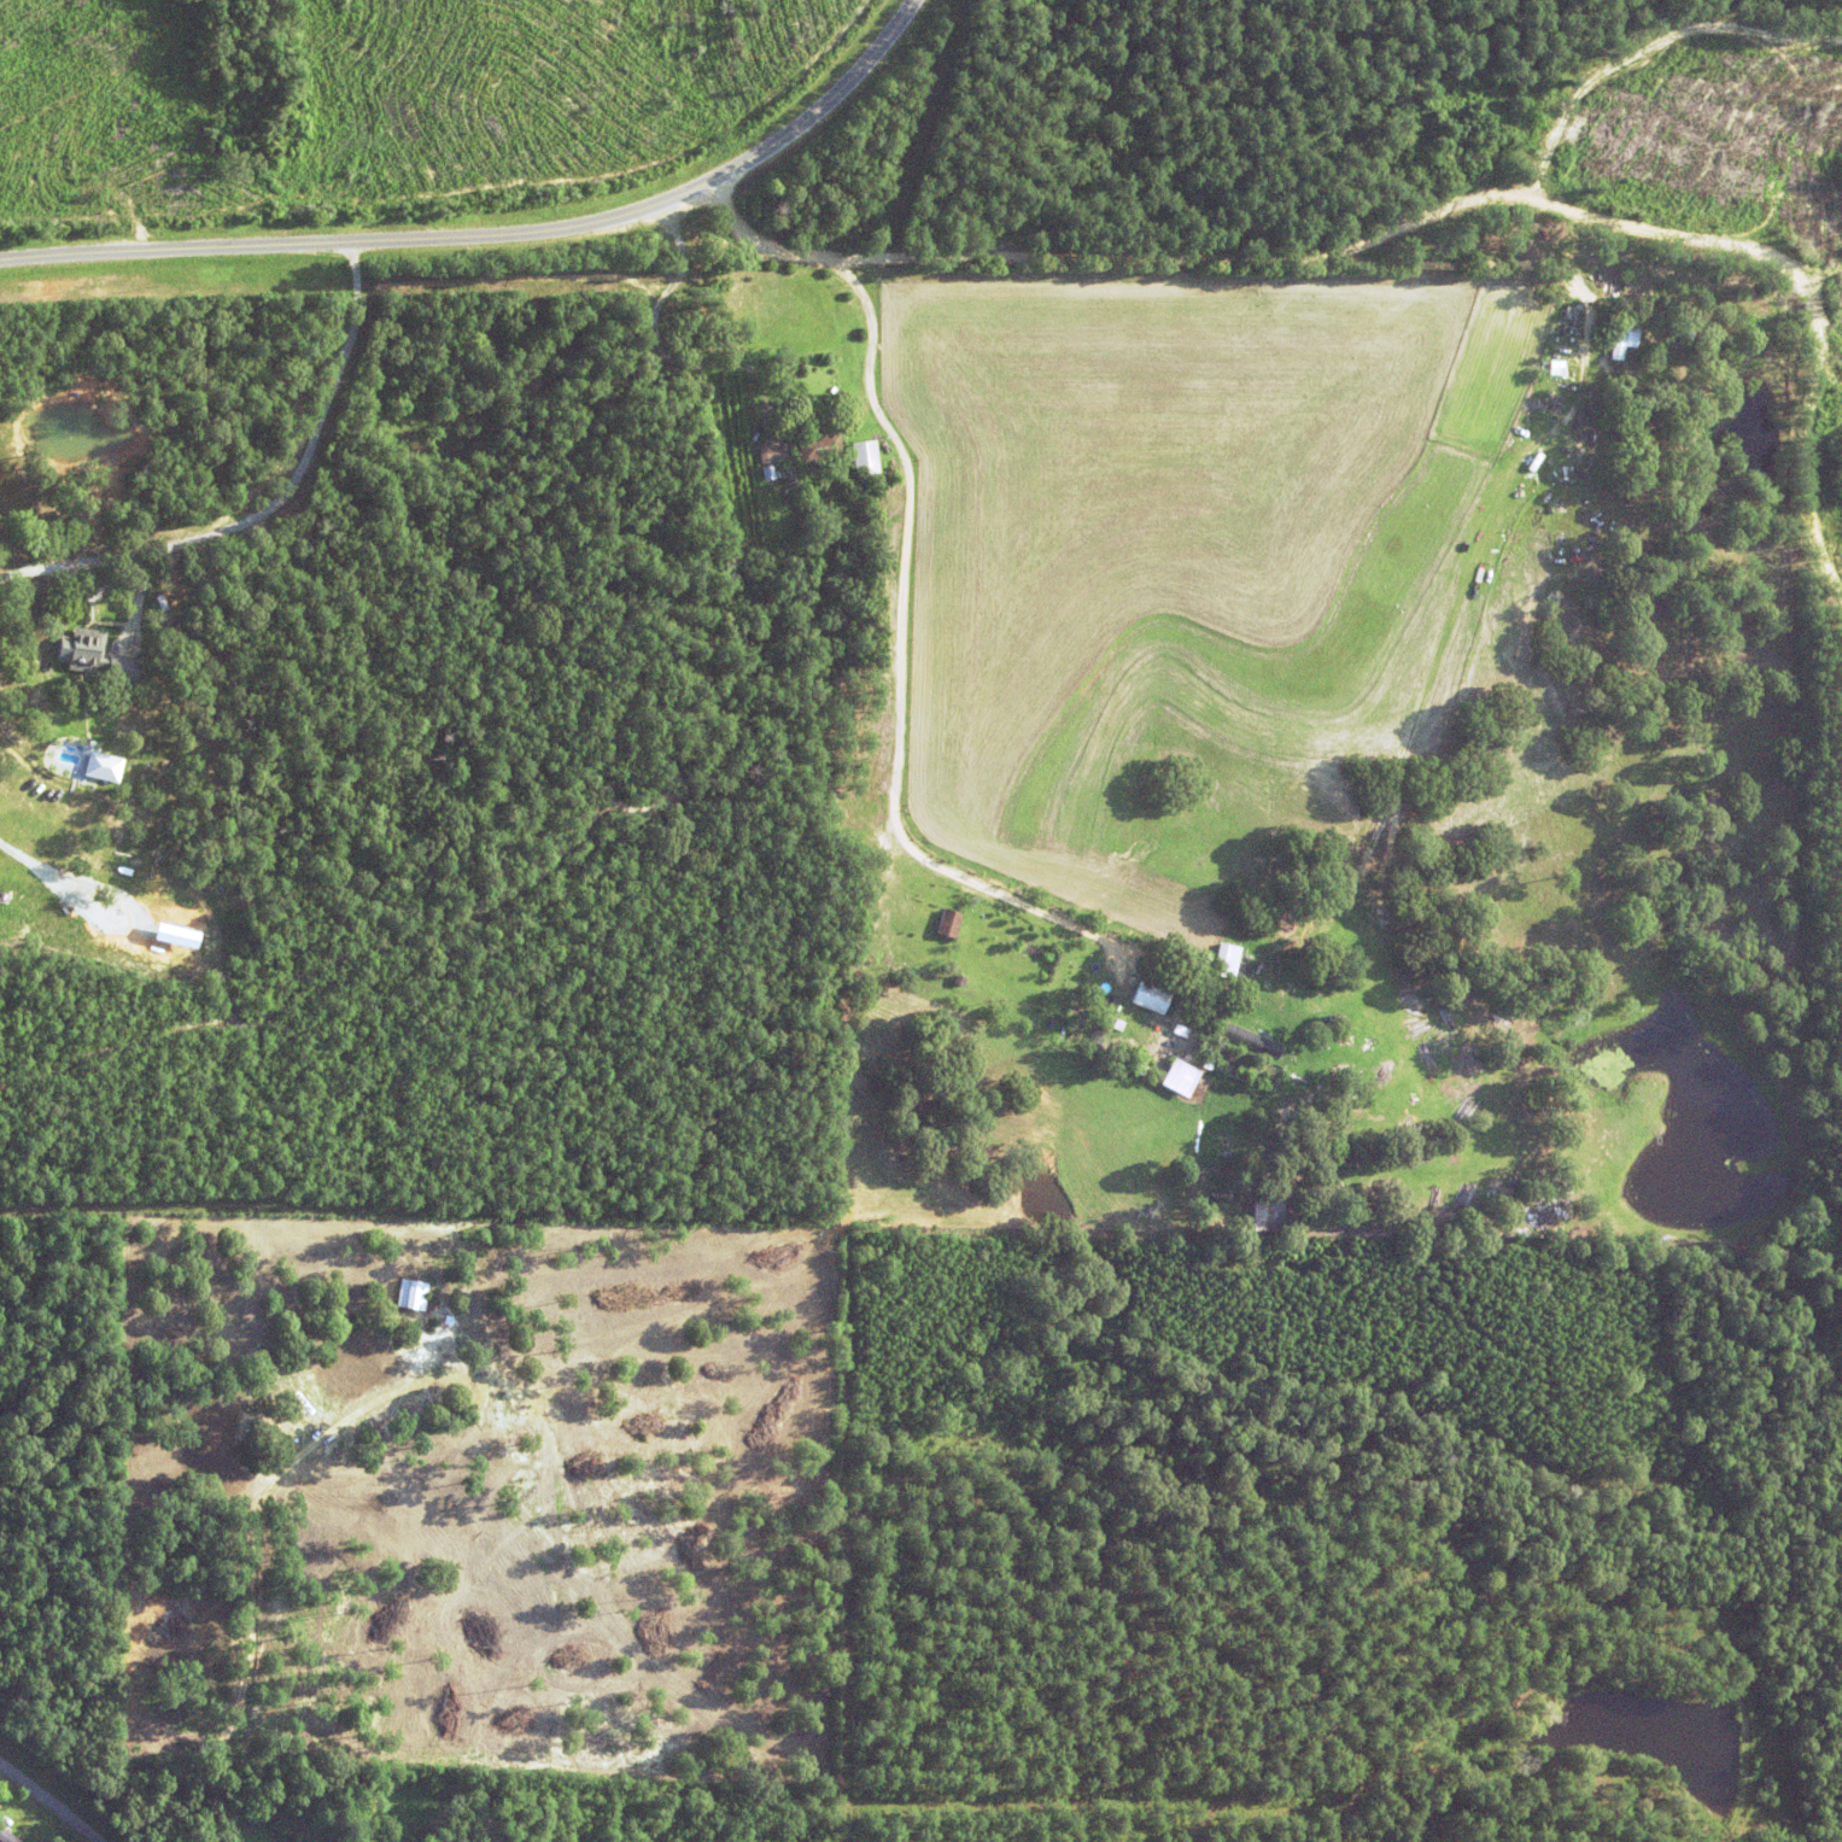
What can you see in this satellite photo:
road: (1467, 200)
road: (499, 239)
building: (1613, 291)
building: (1571, 317)
building: (1682, 326)
building: (1621, 333)
building: (1554, 367)
building: (819, 448)
building: (768, 452)
building: (862, 457)
building: (766, 473)
building: (885, 498)
road: (906, 598)
building: (97, 657)
building: (98, 766)
building: (947, 924)
building: (169, 935)
building: (1223, 958)
building: (1150, 973)
building: (958, 981)
building: (1150, 998)
building: (1116, 1024)
building: (1175, 1035)
building: (1092, 1041)
building: (1242, 1065)
building: (1135, 1066)
building: (1179, 1077)
building: (1333, 1198)
building: (1262, 1215)
building: (408, 1294)
road: (47, 1803)
building: (290, 1817)
building: (296, 1830)
building: (422, 1835)

